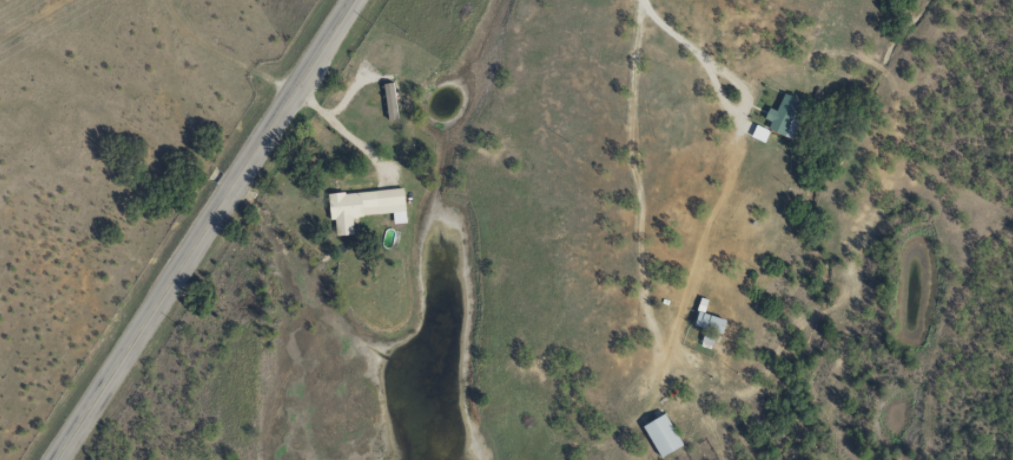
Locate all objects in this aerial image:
road: (172, 90)
building: (387, 100)
building: (779, 117)
road: (647, 169)
building: (361, 206)
road: (204, 226)
building: (705, 319)
building: (659, 434)

